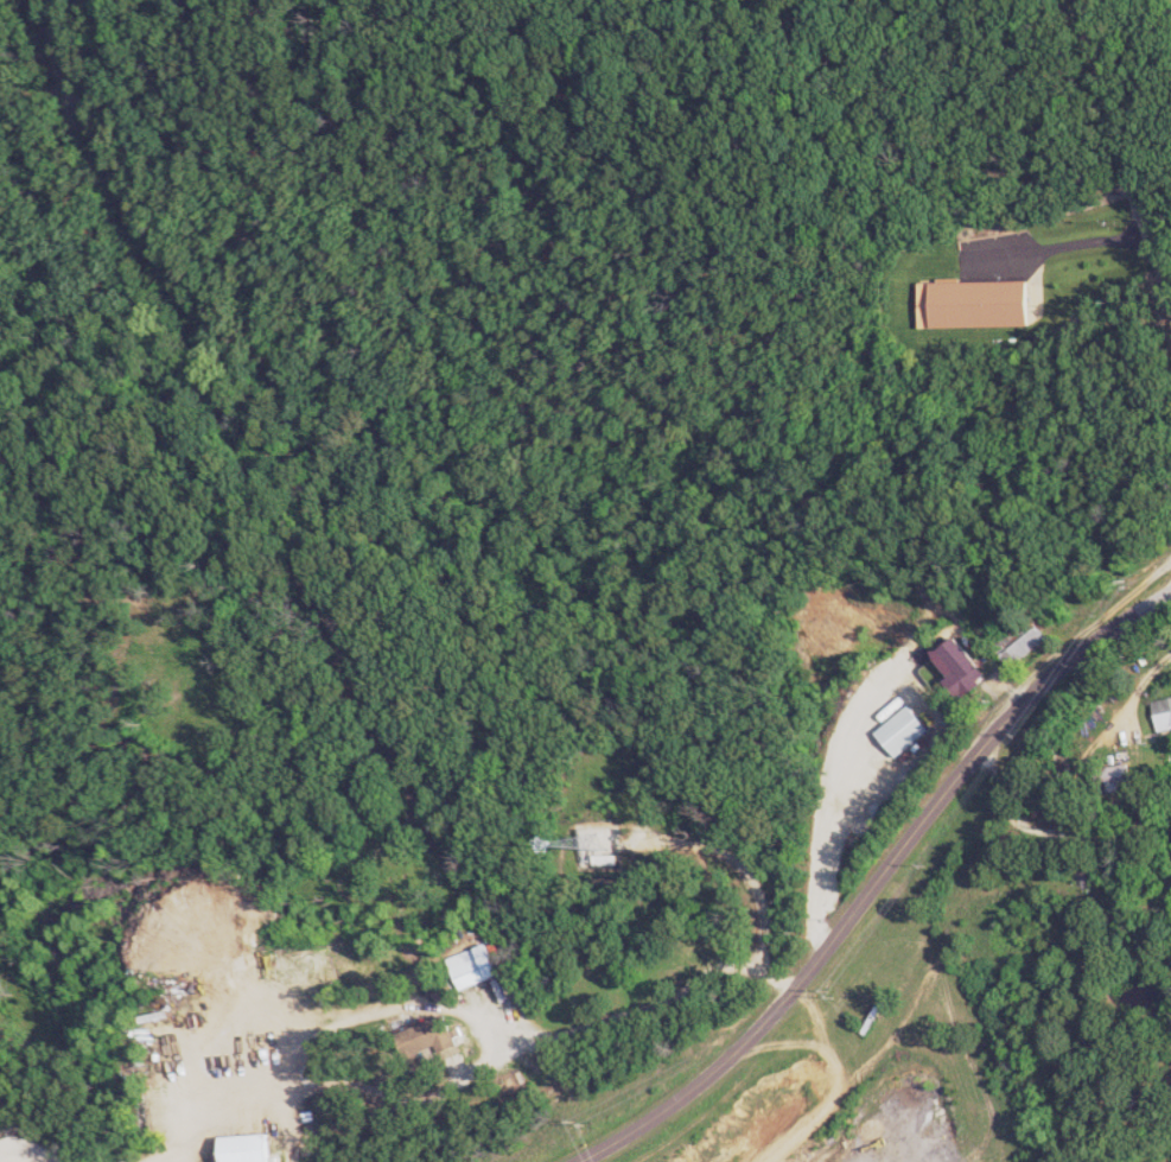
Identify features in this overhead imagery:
road: (1124, 161)
building: (976, 304)
building: (963, 667)
building: (1165, 712)
building: (902, 730)
building: (1127, 775)
road: (867, 878)
building: (484, 964)
building: (437, 1034)
building: (253, 1148)
road: (40, 1157)

